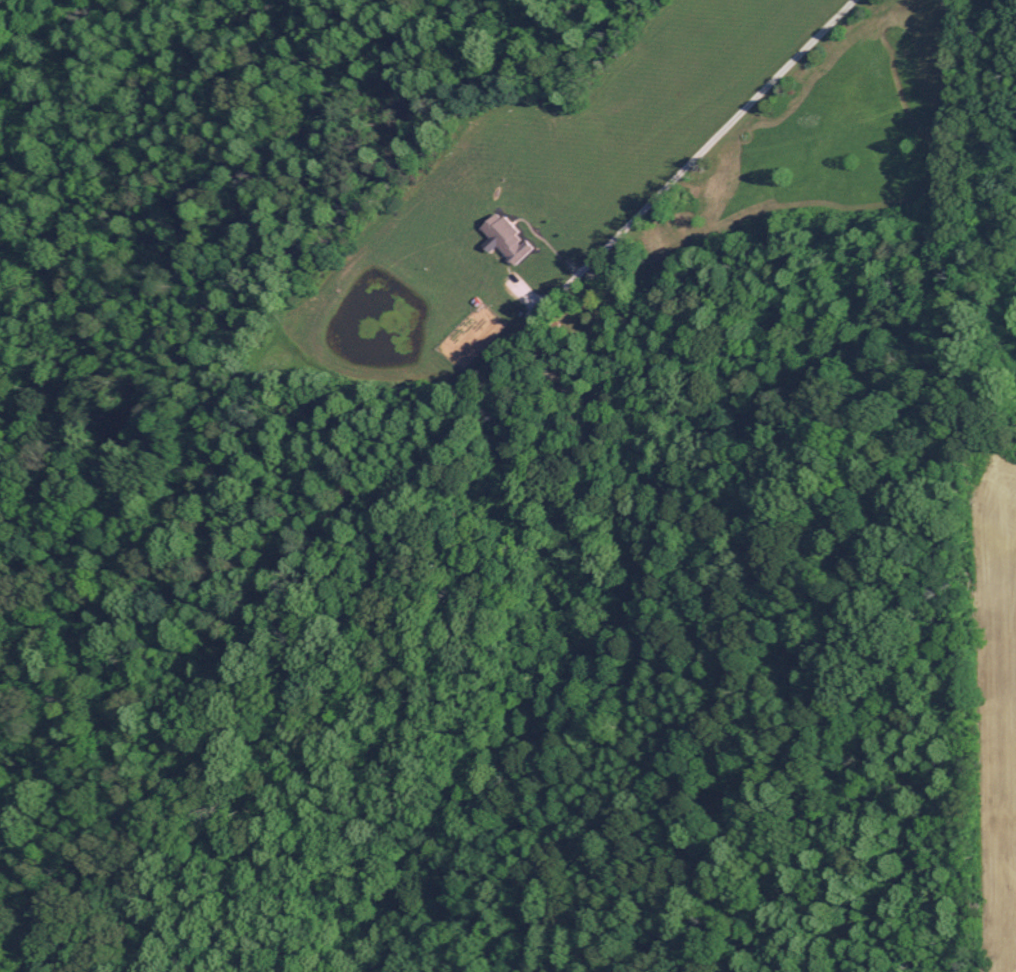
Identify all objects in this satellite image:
building: (503, 237)

